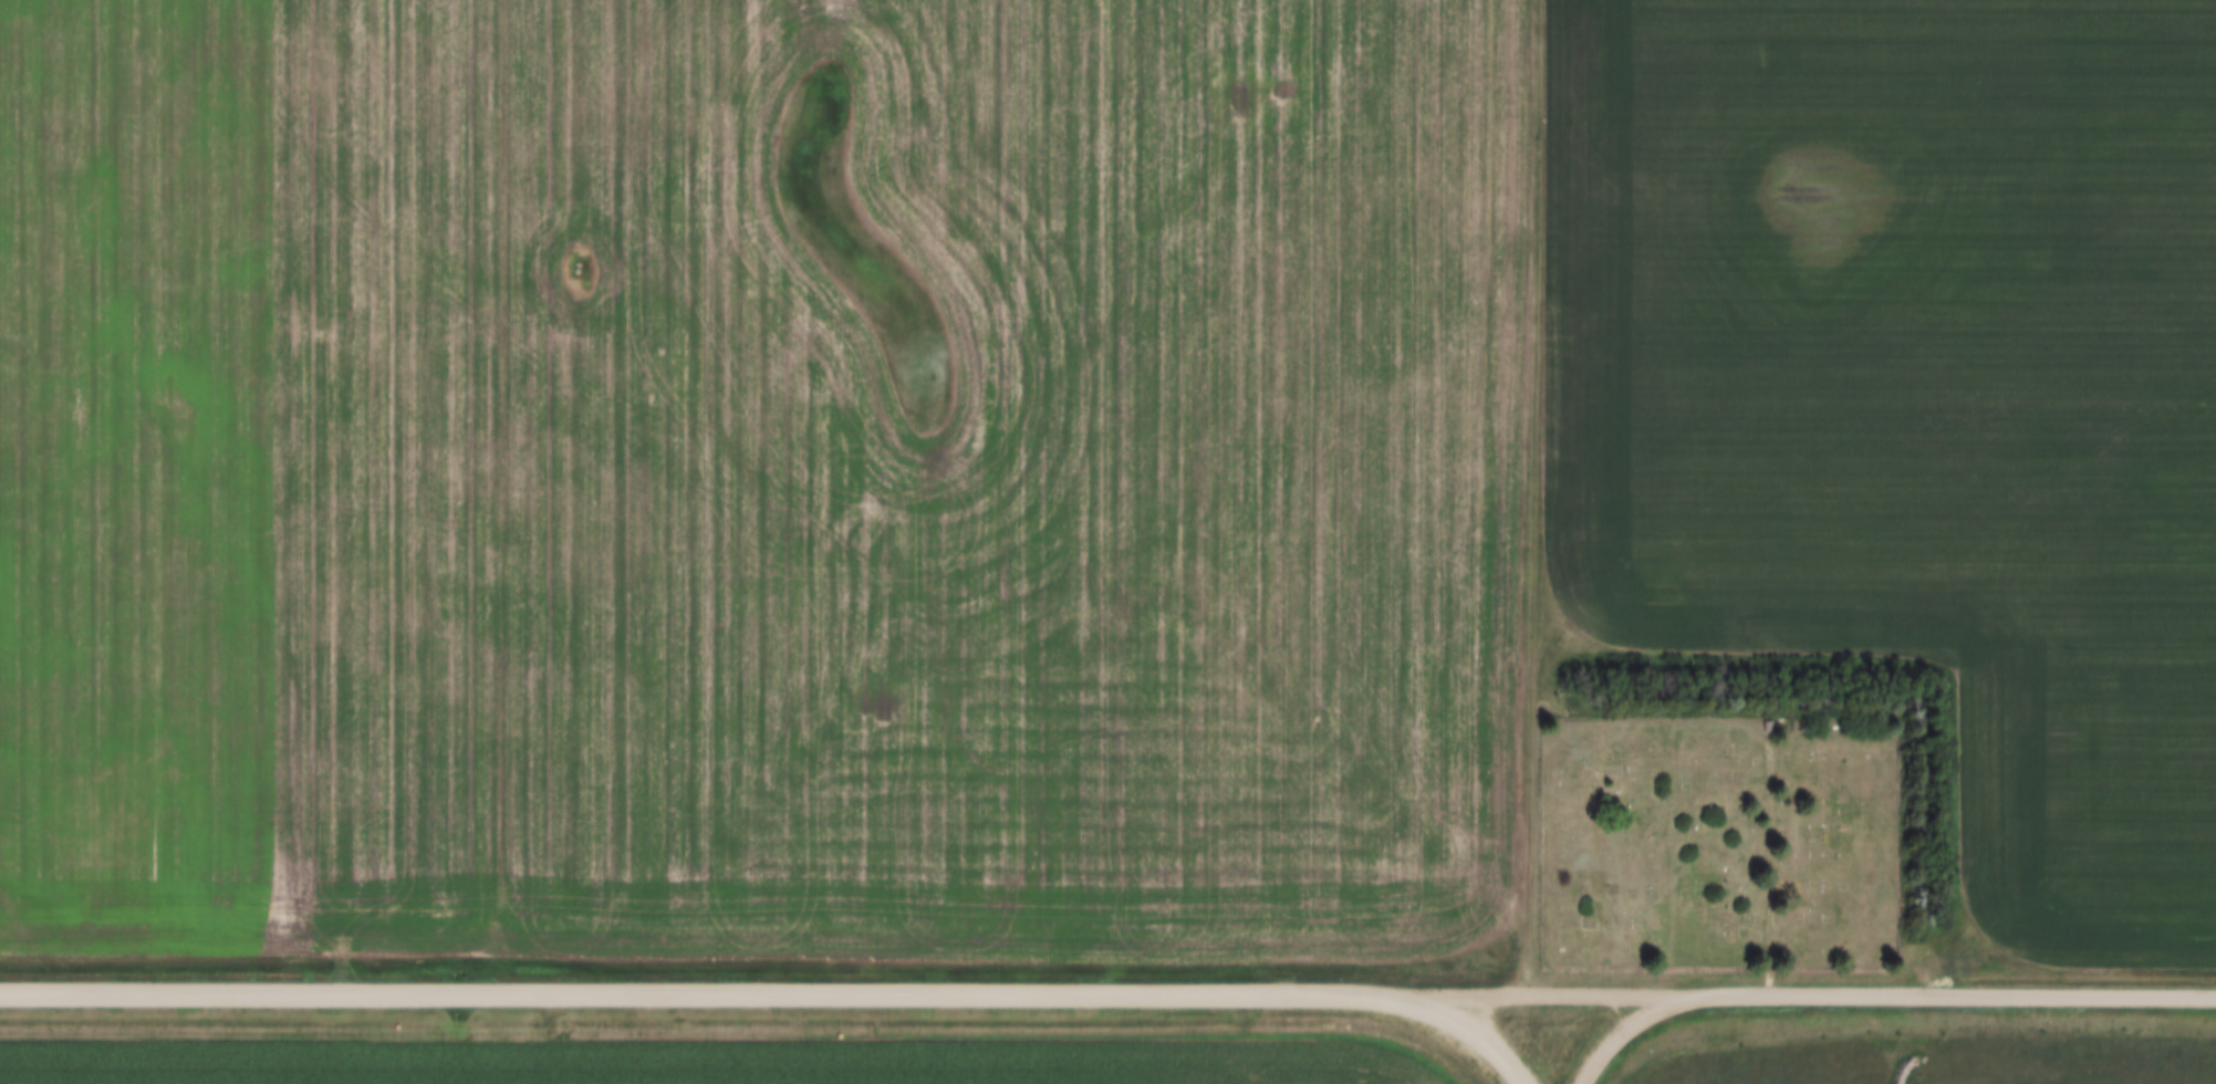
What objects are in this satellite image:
road: (1542, 497)
road: (1769, 741)
road: (704, 991)
road: (1811, 994)
road: (1632, 1026)
road: (1468, 1035)

